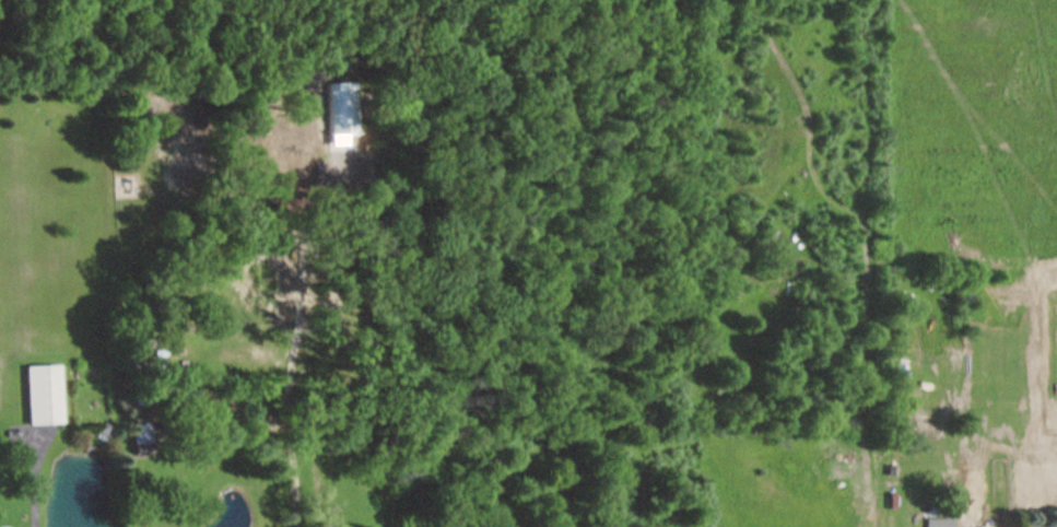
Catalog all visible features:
building: (39, 396)
building: (139, 433)
road: (33, 482)
building: (937, 523)

